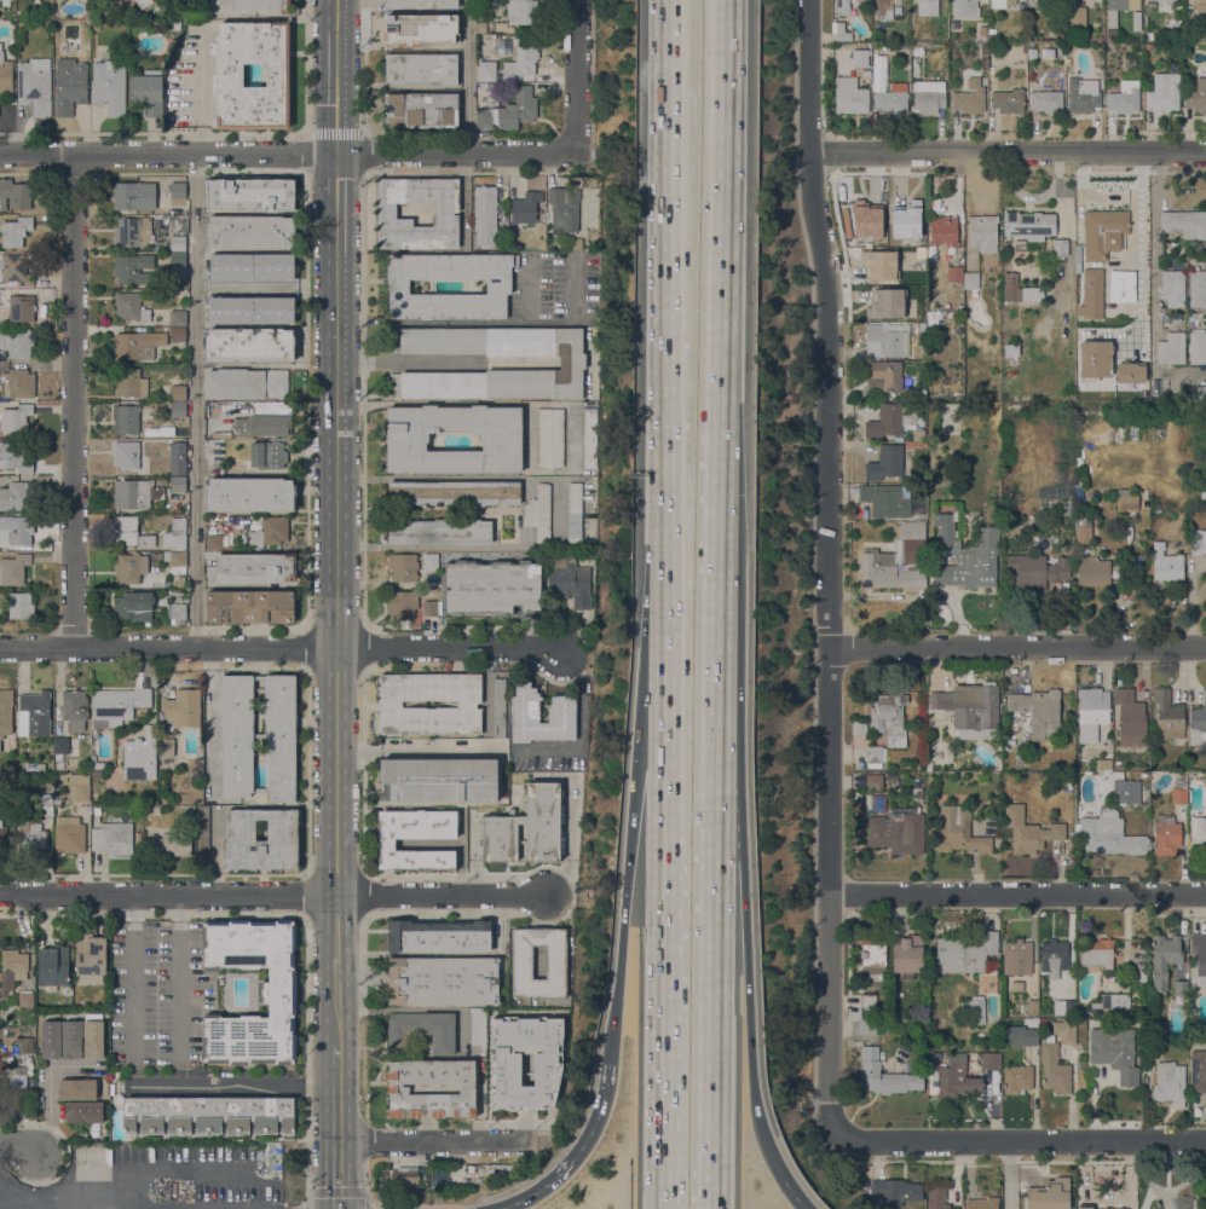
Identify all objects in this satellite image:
building: (1159, 0)
building: (1173, 0)
building: (144, 2)
building: (420, 4)
building: (919, 4)
building: (1002, 4)
building: (262, 5)
building: (842, 7)
building: (883, 7)
building: (965, 8)
building: (1200, 12)
building: (519, 15)
building: (1077, 16)
building: (1112, 18)
building: (1136, 21)
building: (982, 24)
building: (481, 27)
building: (396, 30)
building: (841, 31)
building: (1060, 35)
building: (1175, 35)
building: (1184, 35)
building: (1031, 36)
building: (1148, 36)
building: (1100, 39)
building: (450, 42)
building: (1148, 46)
building: (983, 50)
building: (521, 58)
building: (860, 58)
building: (983, 60)
building: (421, 68)
building: (486, 70)
building: (5, 74)
road: (573, 74)
road: (466, 76)
building: (227, 80)
building: (35, 86)
building: (109, 86)
building: (70, 88)
road: (201, 89)
building: (148, 91)
building: (1164, 92)
building: (850, 96)
building: (928, 96)
building: (1083, 96)
building: (969, 97)
building: (1044, 97)
building: (1124, 97)
building: (1196, 97)
building: (891, 100)
building: (1008, 100)
building: (421, 109)
building: (518, 109)
building: (484, 117)
road: (284, 154)
road: (1006, 154)
road: (722, 185)
building: (178, 190)
building: (15, 195)
building: (250, 195)
building: (134, 196)
building: (525, 207)
building: (564, 209)
building: (386, 213)
building: (485, 215)
building: (866, 219)
building: (905, 219)
building: (157, 221)
building: (1185, 222)
building: (179, 225)
building: (1028, 227)
building: (15, 231)
building: (132, 231)
building: (944, 231)
building: (249, 232)
building: (983, 232)
building: (1103, 232)
building: (175, 243)
building: (576, 244)
building: (1019, 245)
building: (1060, 248)
building: (1078, 256)
road: (1153, 259)
building: (177, 265)
building: (879, 265)
building: (252, 267)
building: (15, 270)
building: (133, 270)
building: (954, 273)
building: (971, 282)
building: (1123, 284)
building: (498, 287)
building: (1010, 287)
building: (1172, 288)
building: (1198, 289)
building: (1092, 297)
building: (884, 303)
building: (131, 306)
building: (21, 308)
building: (252, 308)
building: (178, 317)
building: (1191, 318)
building: (178, 334)
building: (887, 339)
building: (17, 342)
building: (137, 345)
building: (249, 345)
building: (1198, 347)
building: (1171, 348)
building: (1010, 351)
building: (1094, 358)
road: (443, 363)
building: (570, 363)
road: (669, 364)
building: (1129, 372)
building: (883, 376)
building: (129, 382)
building: (17, 383)
building: (247, 383)
building: (178, 393)
road: (73, 399)
road: (196, 399)
road: (483, 403)
building: (178, 409)
building: (230, 409)
building: (16, 420)
building: (126, 420)
building: (895, 421)
building: (262, 426)
building: (550, 436)
building: (589, 438)
building: (501, 439)
building: (126, 455)
building: (269, 456)
building: (15, 457)
building: (213, 457)
building: (178, 458)
road: (719, 461)
building: (885, 463)
road: (448, 478)
building: (178, 484)
building: (454, 492)
building: (135, 493)
building: (250, 494)
building: (1202, 496)
building: (17, 497)
building: (1126, 499)
building: (885, 501)
building: (1071, 508)
building: (538, 513)
building: (575, 513)
building: (145, 517)
road: (335, 523)
building: (19, 530)
building: (131, 532)
building: (271, 532)
building: (439, 532)
building: (1083, 532)
building: (178, 533)
building: (214, 542)
building: (1198, 542)
road: (474, 545)
building: (965, 554)
building: (898, 560)
building: (175, 561)
building: (431, 561)
building: (1165, 562)
building: (403, 566)
building: (129, 567)
building: (255, 567)
building: (13, 569)
road: (830, 569)
building: (1035, 569)
building: (1092, 572)
building: (571, 583)
building: (492, 588)
building: (19, 604)
building: (400, 604)
building: (134, 606)
building: (250, 607)
building: (429, 607)
building: (1, 608)
building: (178, 612)
road: (281, 646)
road: (1017, 647)
road: (716, 673)
building: (119, 704)
building: (391, 704)
building: (184, 706)
building: (970, 706)
building: (500, 707)
building: (74, 708)
building: (1038, 711)
building: (1091, 712)
building: (34, 713)
building: (525, 715)
building: (1167, 715)
building: (6, 716)
building: (889, 718)
building: (1131, 719)
building: (1199, 723)
building: (859, 727)
building: (62, 745)
building: (166, 747)
road: (412, 750)
building: (1107, 753)
building: (875, 756)
building: (140, 757)
building: (238, 758)
building: (59, 764)
building: (96, 765)
road: (667, 777)
building: (439, 780)
building: (873, 781)
building: (79, 787)
building: (1179, 789)
building: (1126, 791)
building: (916, 794)
building: (1205, 794)
building: (46, 799)
building: (57, 803)
building: (97, 810)
road: (631, 822)
building: (526, 827)
building: (898, 831)
building: (962, 831)
building: (1029, 831)
building: (203, 833)
building: (69, 834)
building: (1109, 834)
building: (1198, 834)
building: (1166, 835)
building: (2, 837)
building: (416, 837)
building: (111, 838)
building: (240, 839)
building: (34, 840)
building: (169, 844)
road: (742, 883)
road: (440, 893)
road: (1017, 895)
road: (168, 897)
building: (439, 936)
building: (1199, 951)
building: (873, 953)
building: (907, 953)
building: (966, 954)
building: (1096, 955)
building: (1016, 956)
building: (1054, 958)
building: (1165, 958)
building: (91, 959)
building: (521, 961)
building: (53, 965)
building: (12, 968)
road: (133, 976)
building: (1143, 976)
road: (178, 977)
building: (443, 980)
building: (1016, 985)
building: (1181, 988)
building: (278, 991)
building: (894, 993)
road: (614, 994)
building: (25, 999)
building: (869, 1000)
road: (712, 1002)
building: (1110, 1005)
building: (1033, 1007)
building: (1064, 1007)
building: (975, 1008)
road: (665, 1018)
building: (867, 1025)
building: (478, 1028)
building: (423, 1030)
building: (1064, 1031)
building: (1031, 1035)
building: (976, 1036)
building: (93, 1039)
building: (51, 1040)
building: (73, 1040)
building: (25, 1045)
building: (1150, 1049)
building: (1115, 1052)
building: (989, 1059)
building: (525, 1062)
road: (750, 1062)
building: (1054, 1066)
building: (1199, 1072)
building: (884, 1075)
building: (1017, 1078)
building: (956, 1081)
building: (1170, 1083)
building: (13, 1086)
road: (232, 1086)
road: (48, 1087)
building: (77, 1088)
building: (398, 1088)
building: (83, 1112)
building: (209, 1113)
road: (339, 1128)
road: (432, 1143)
road: (1021, 1143)
road: (23, 1146)
road: (576, 1152)
building: (412, 1176)
road: (1009, 1176)
road: (781, 1179)
road: (346, 1191)
building: (895, 1191)
building: (1050, 1194)
building: (936, 1197)
road: (2, 1202)
building: (982, 1203)
building: (1184, 1203)
road: (73, 1204)
building: (1085, 1207)
building: (958, 1208)

